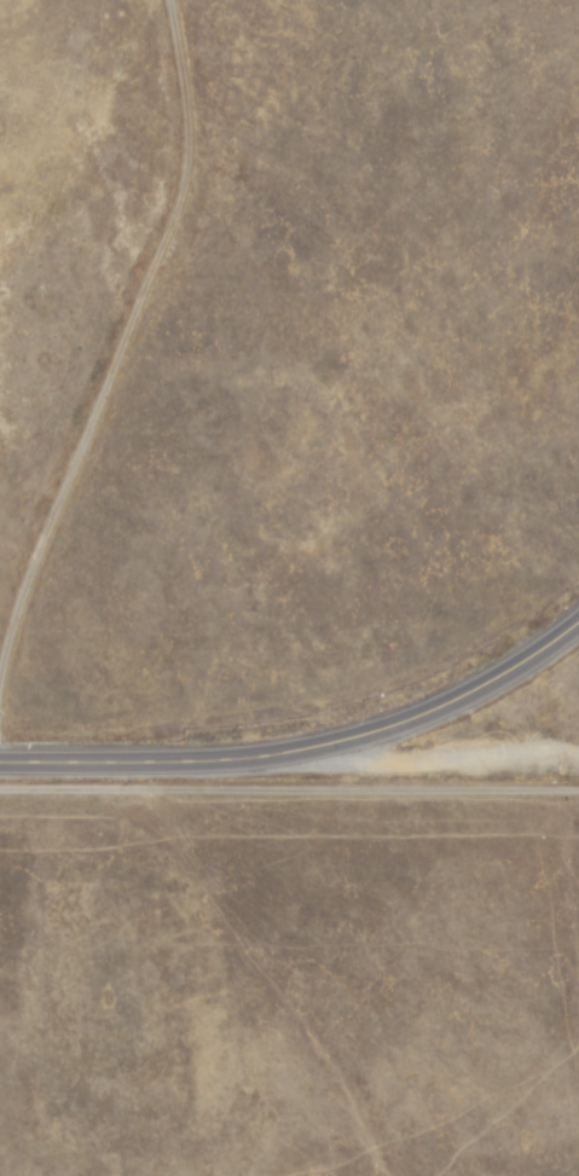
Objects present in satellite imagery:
road: (305, 748)

